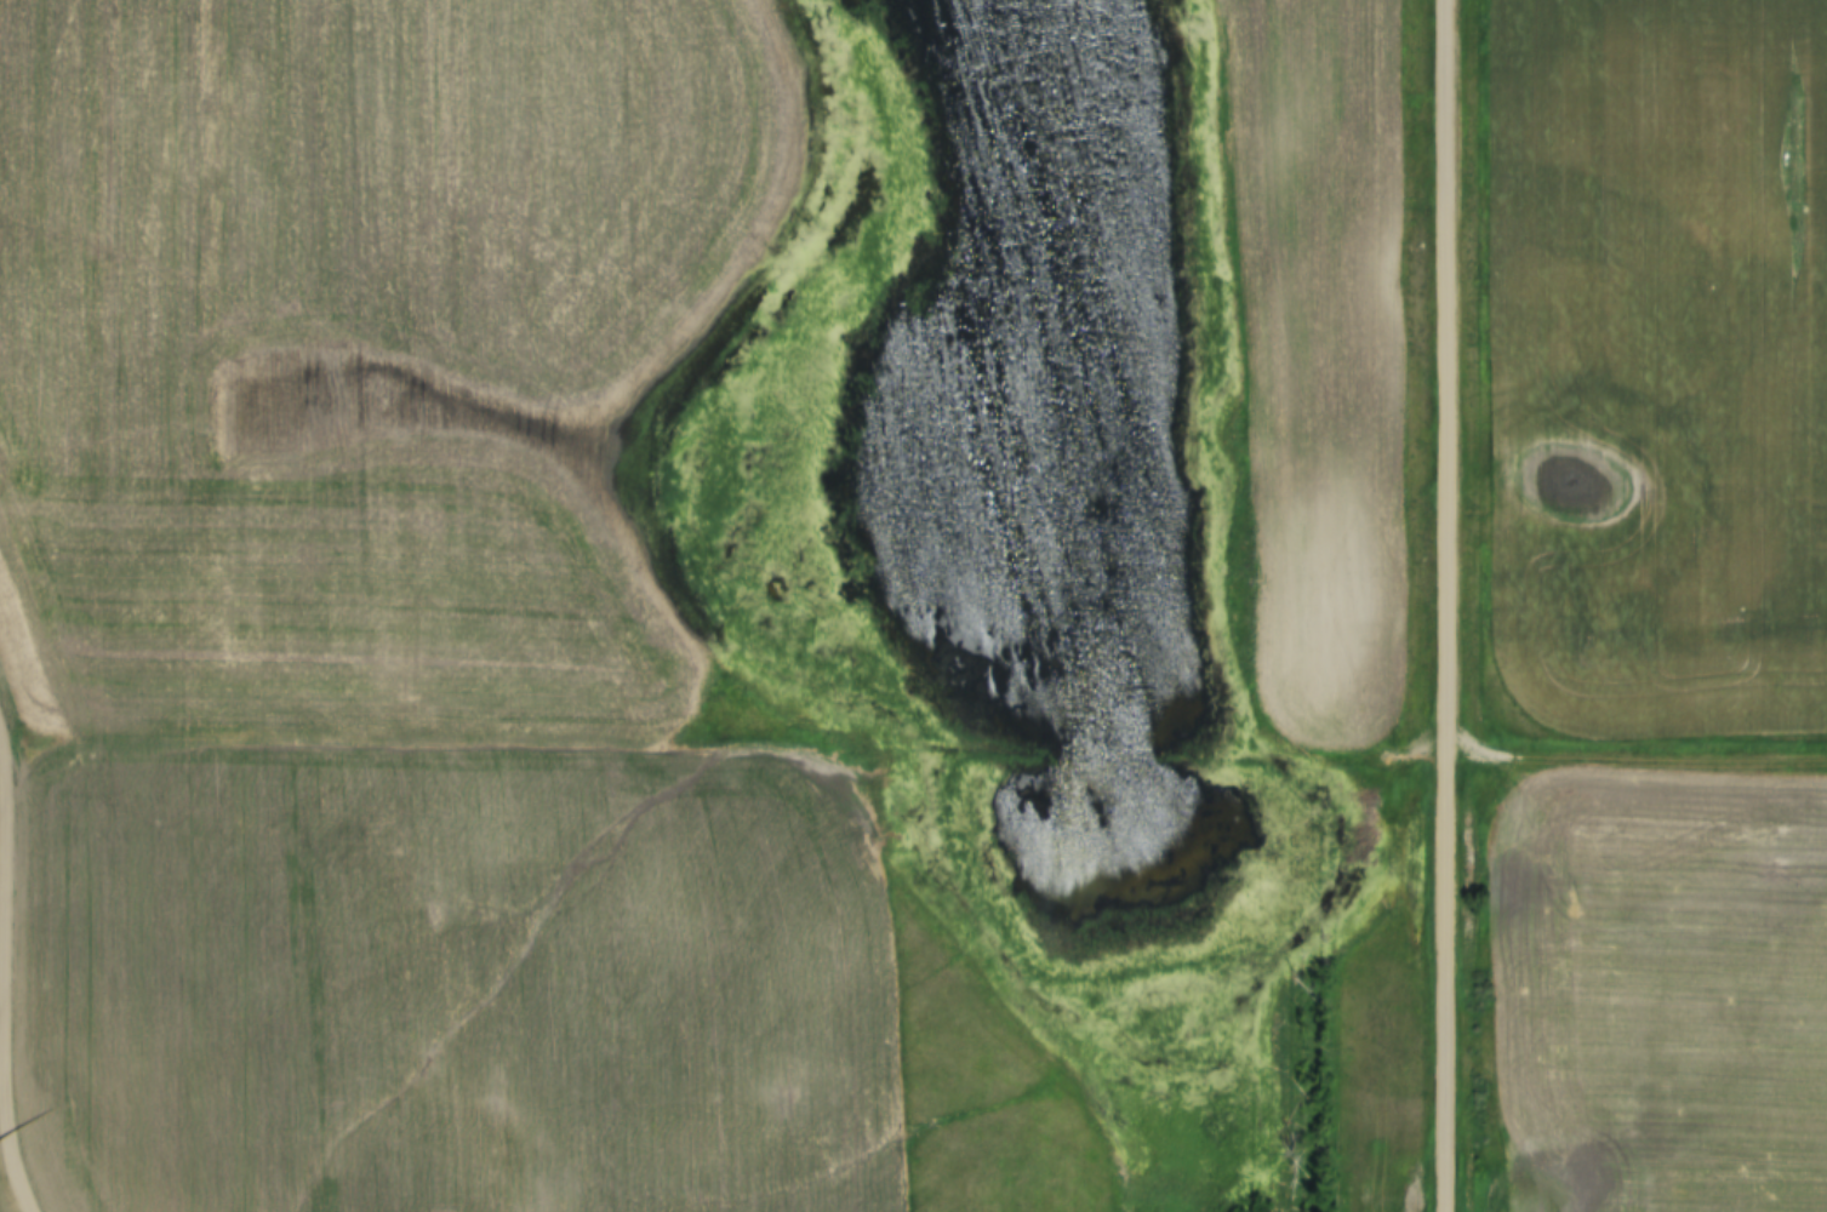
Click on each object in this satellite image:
road: (1451, 605)

